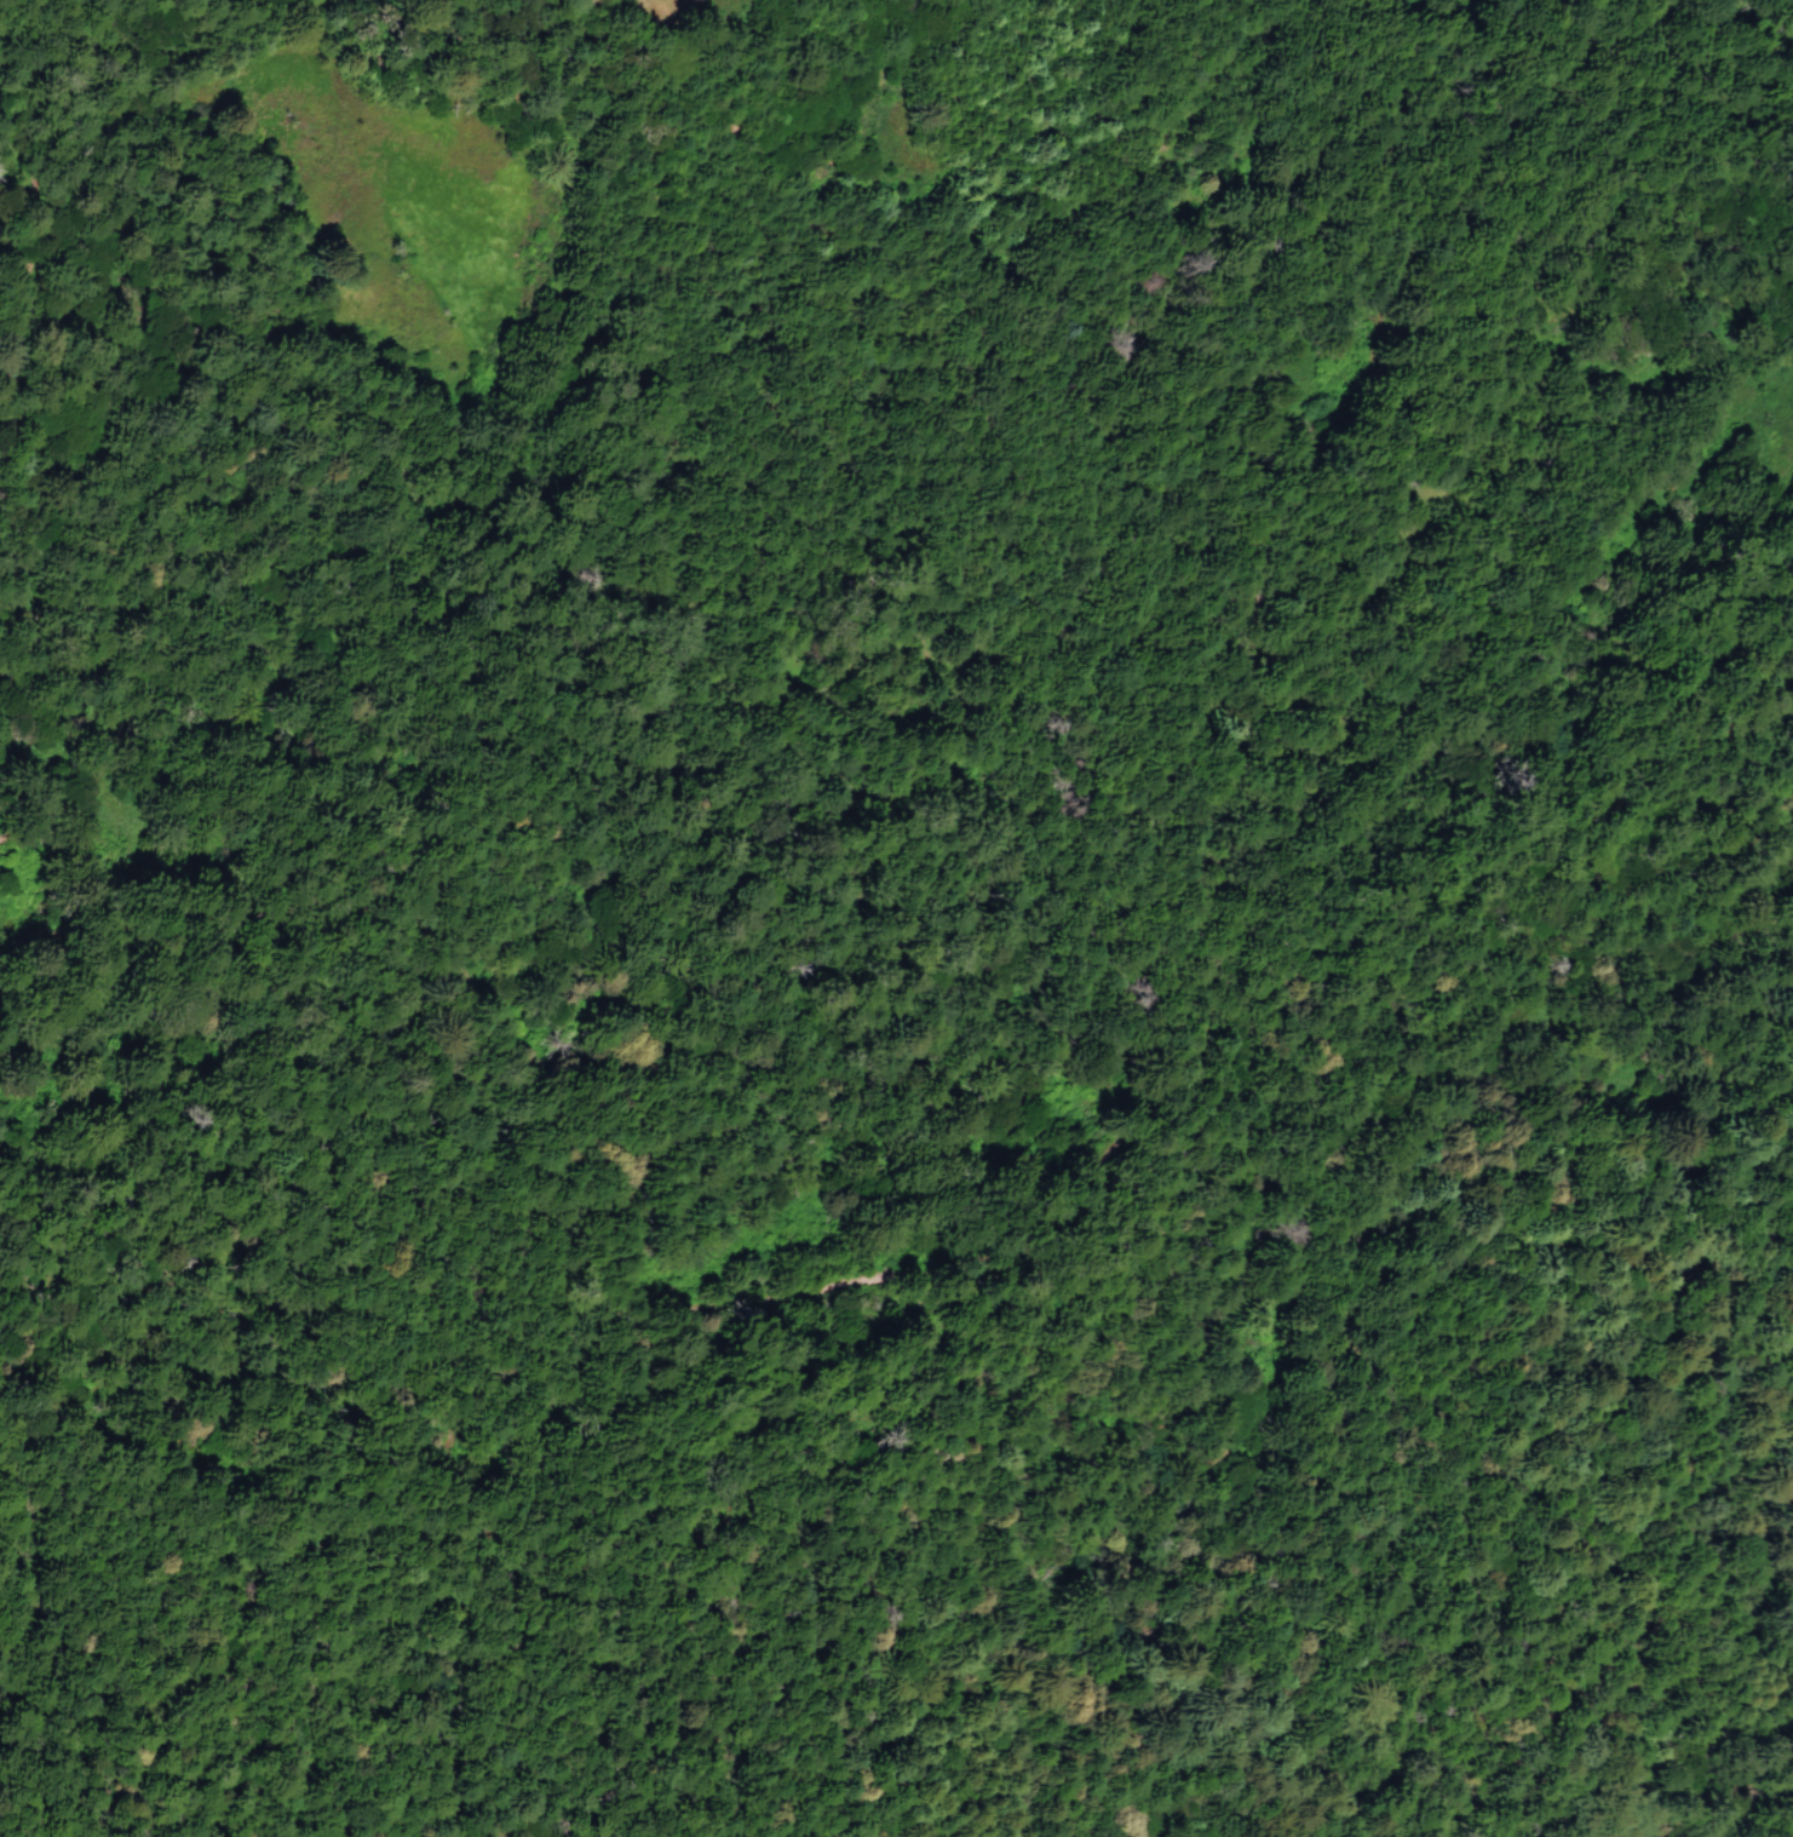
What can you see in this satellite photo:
road: (521, 18)
road: (40, 23)
road: (1529, 137)
road: (540, 407)
road: (1338, 441)
road: (1134, 488)
road: (54, 626)
road: (1496, 826)
road: (778, 1118)
road: (316, 1247)
road: (1217, 1443)

